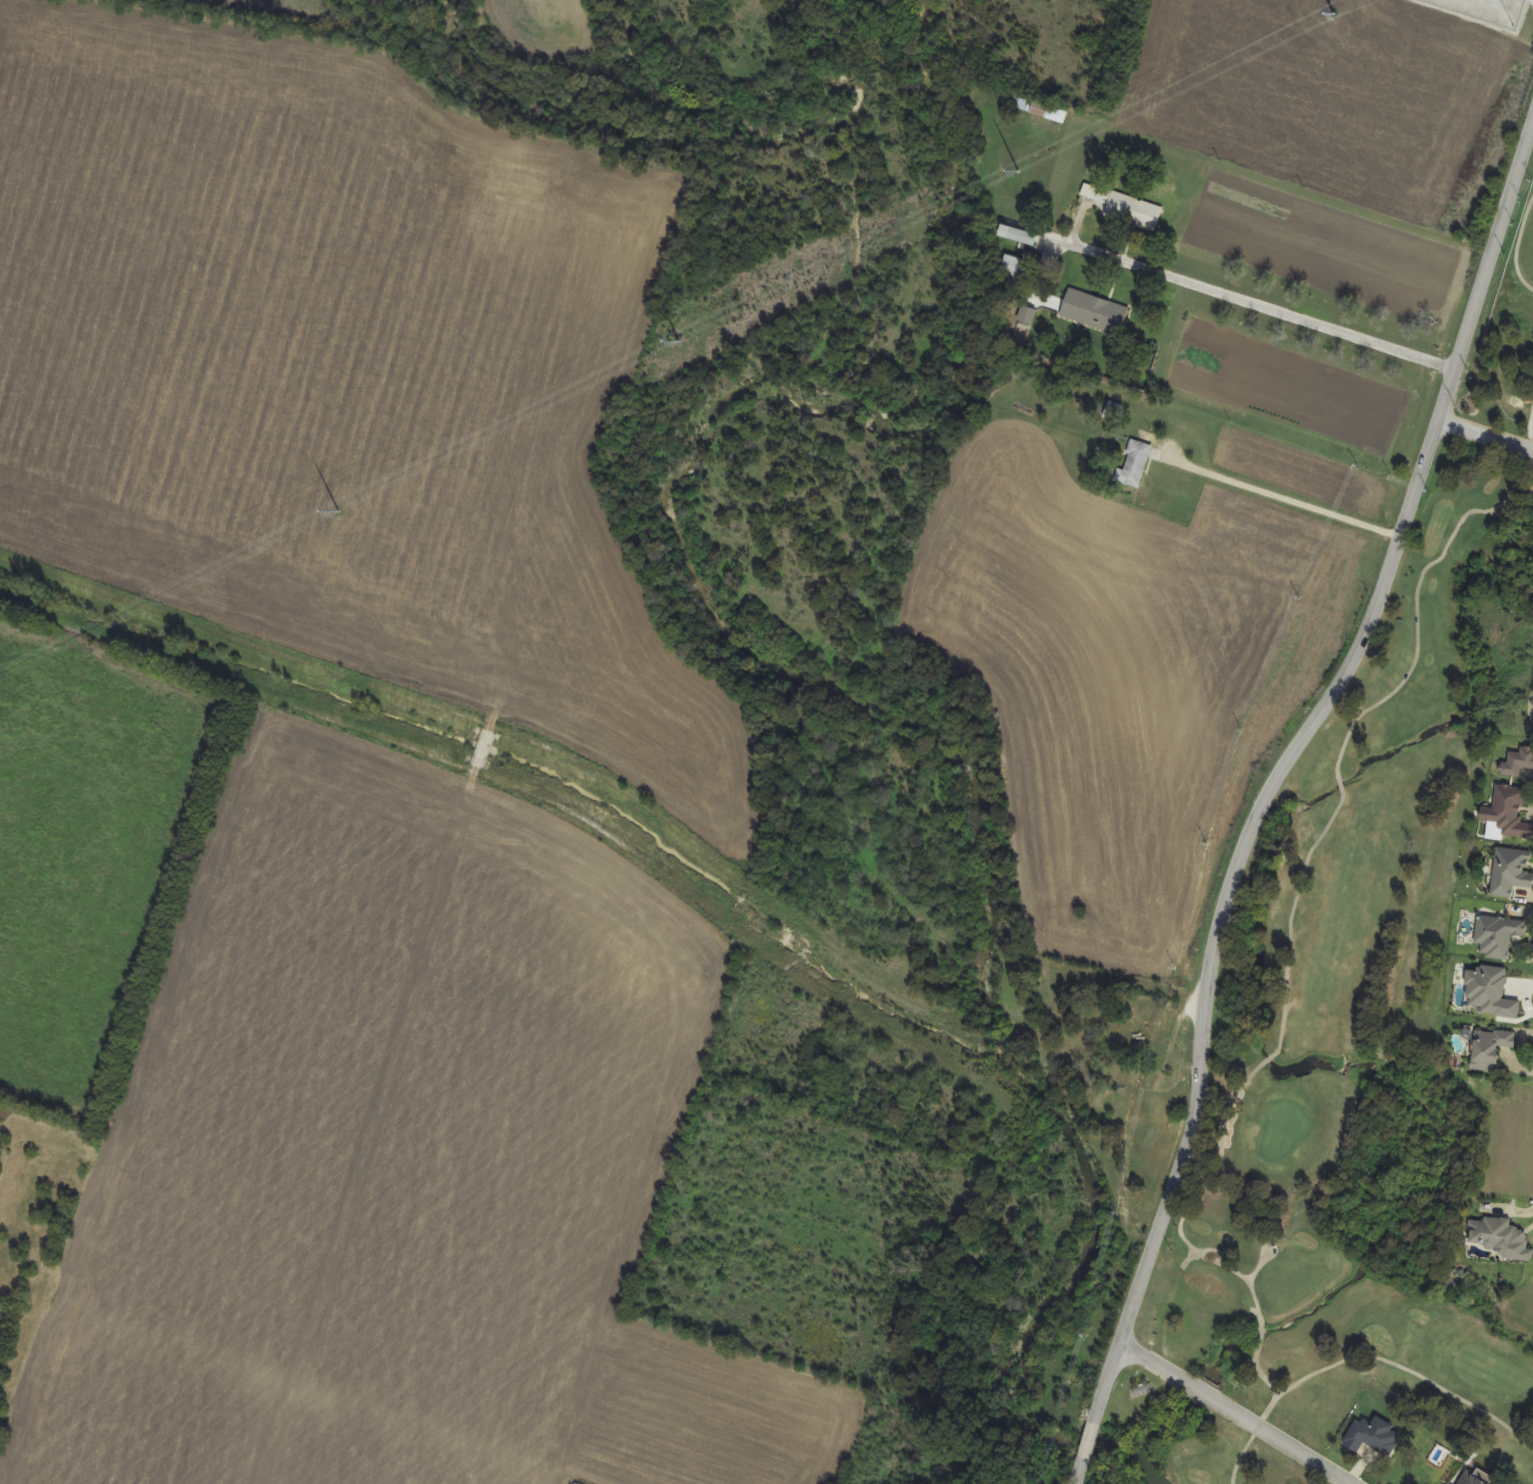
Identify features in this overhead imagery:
power substation: (1487, 10)
power tower: (1333, 14)
building: (1034, 108)
power tower: (1019, 171)
building: (1126, 208)
building: (1013, 234)
road: (1517, 248)
building: (1015, 267)
road: (1260, 303)
building: (1095, 312)
power tower: (683, 340)
road: (1484, 436)
building: (1135, 464)
road: (1288, 501)
power tower: (339, 511)
road: (1415, 607)
power tower: (1, 679)
building: (484, 747)
building: (1518, 763)
road: (1273, 792)
building: (1509, 813)
building: (1511, 872)
building: (1498, 935)
park: (1384, 1047)
building: (1490, 1048)
road: (1251, 1072)
building: (1496, 1239)
road: (1262, 1247)
road: (1381, 1359)
road: (1233, 1411)
building: (1373, 1432)
road: (1251, 1434)
building: (1470, 1476)

